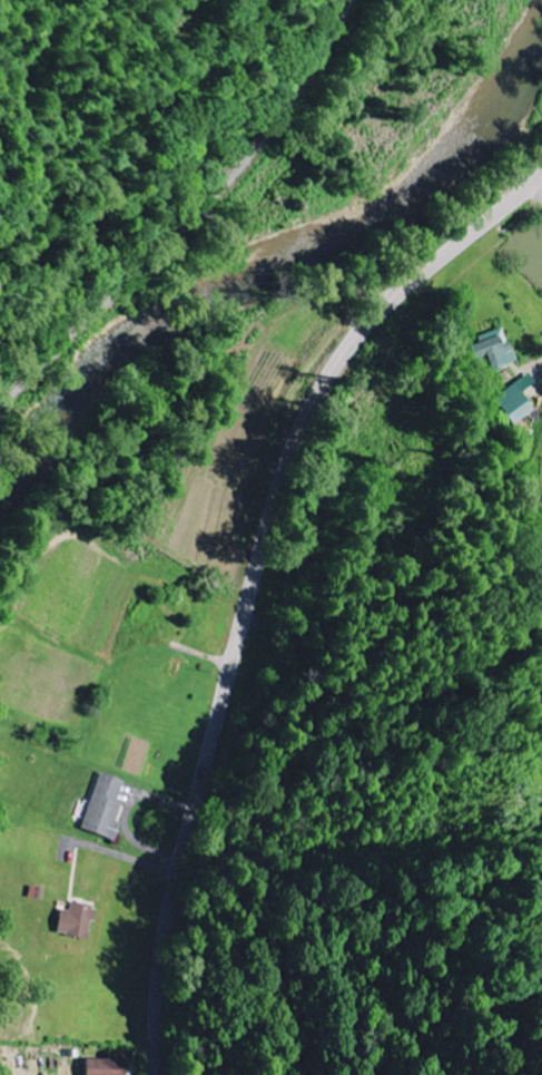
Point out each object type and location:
railway: (189, 209)
river: (282, 260)
building: (492, 350)
building: (516, 399)
road: (259, 579)
building: (105, 805)
building: (76, 919)
building: (107, 1065)

